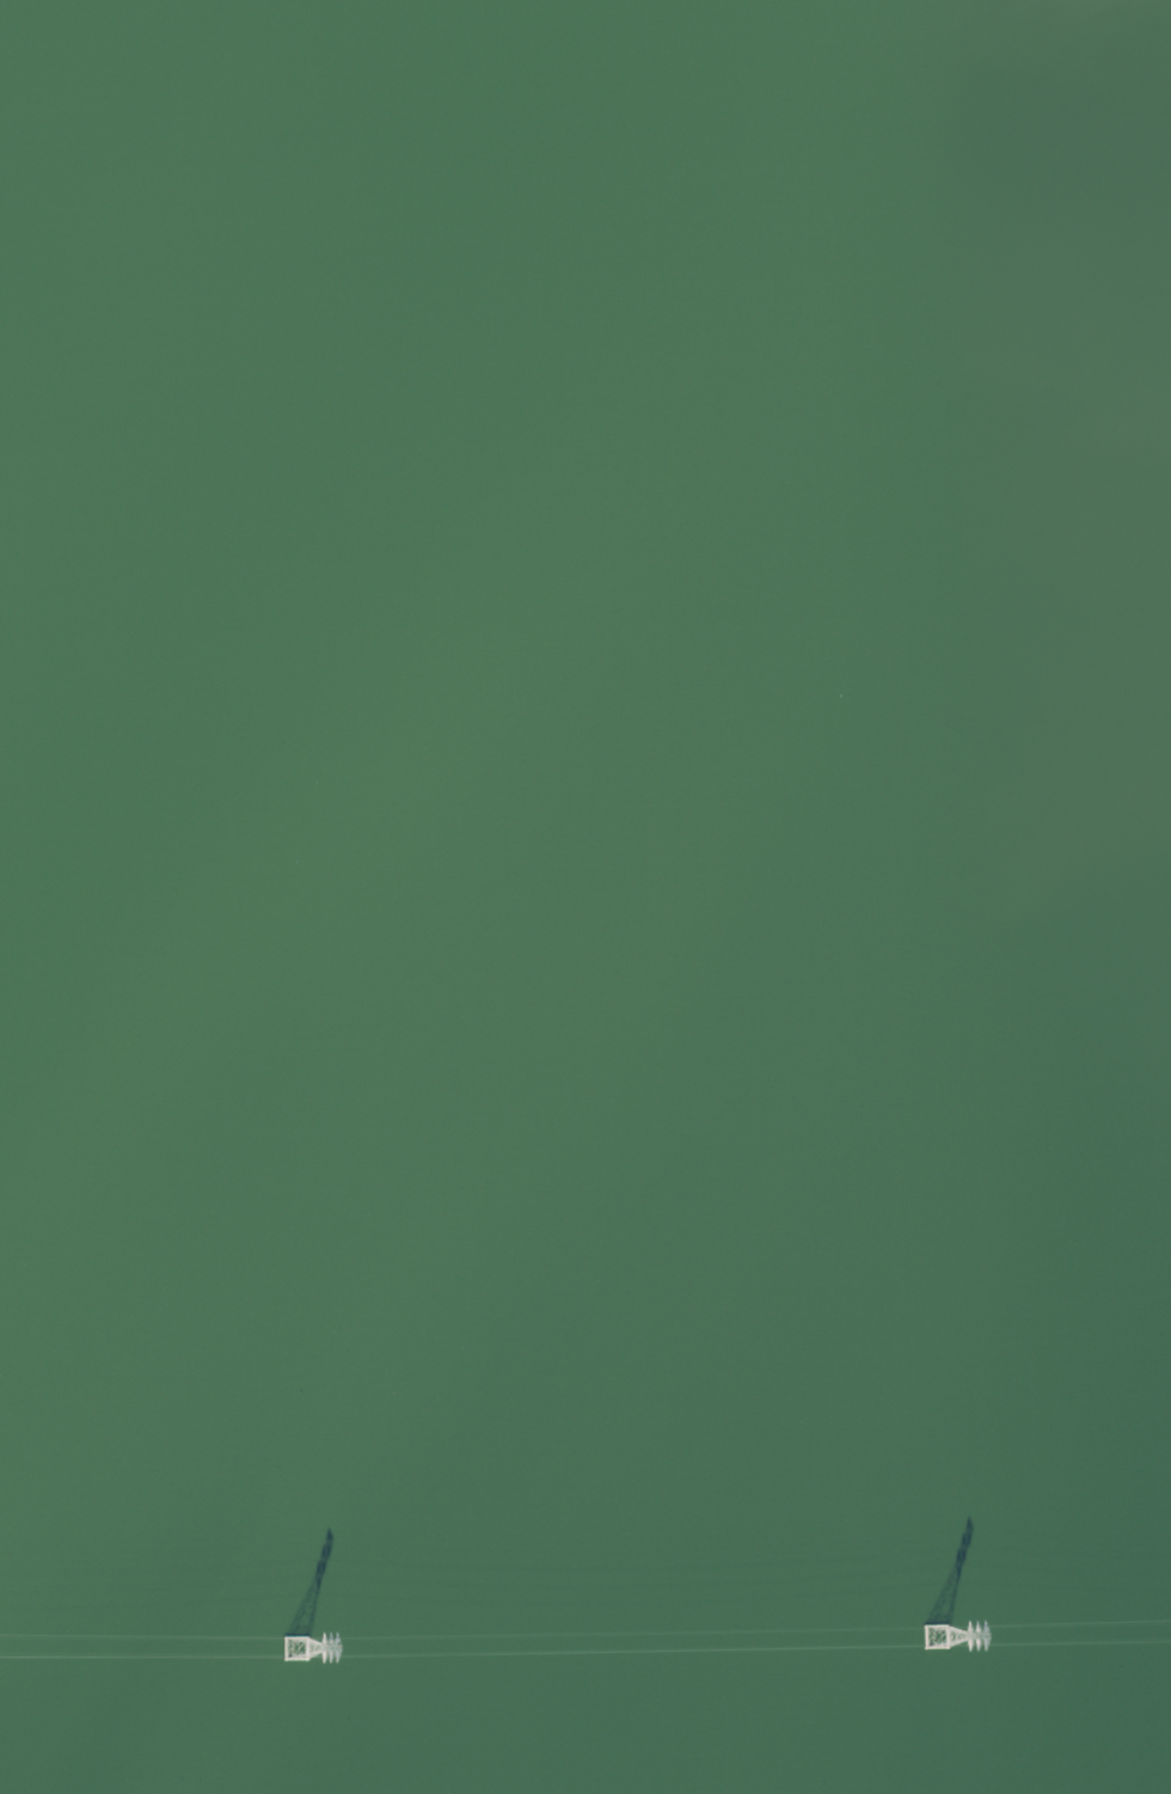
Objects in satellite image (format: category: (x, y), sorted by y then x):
building: (79, 59)
river: (337, 1502)
power tower: (936, 1636)
power tower: (298, 1646)

